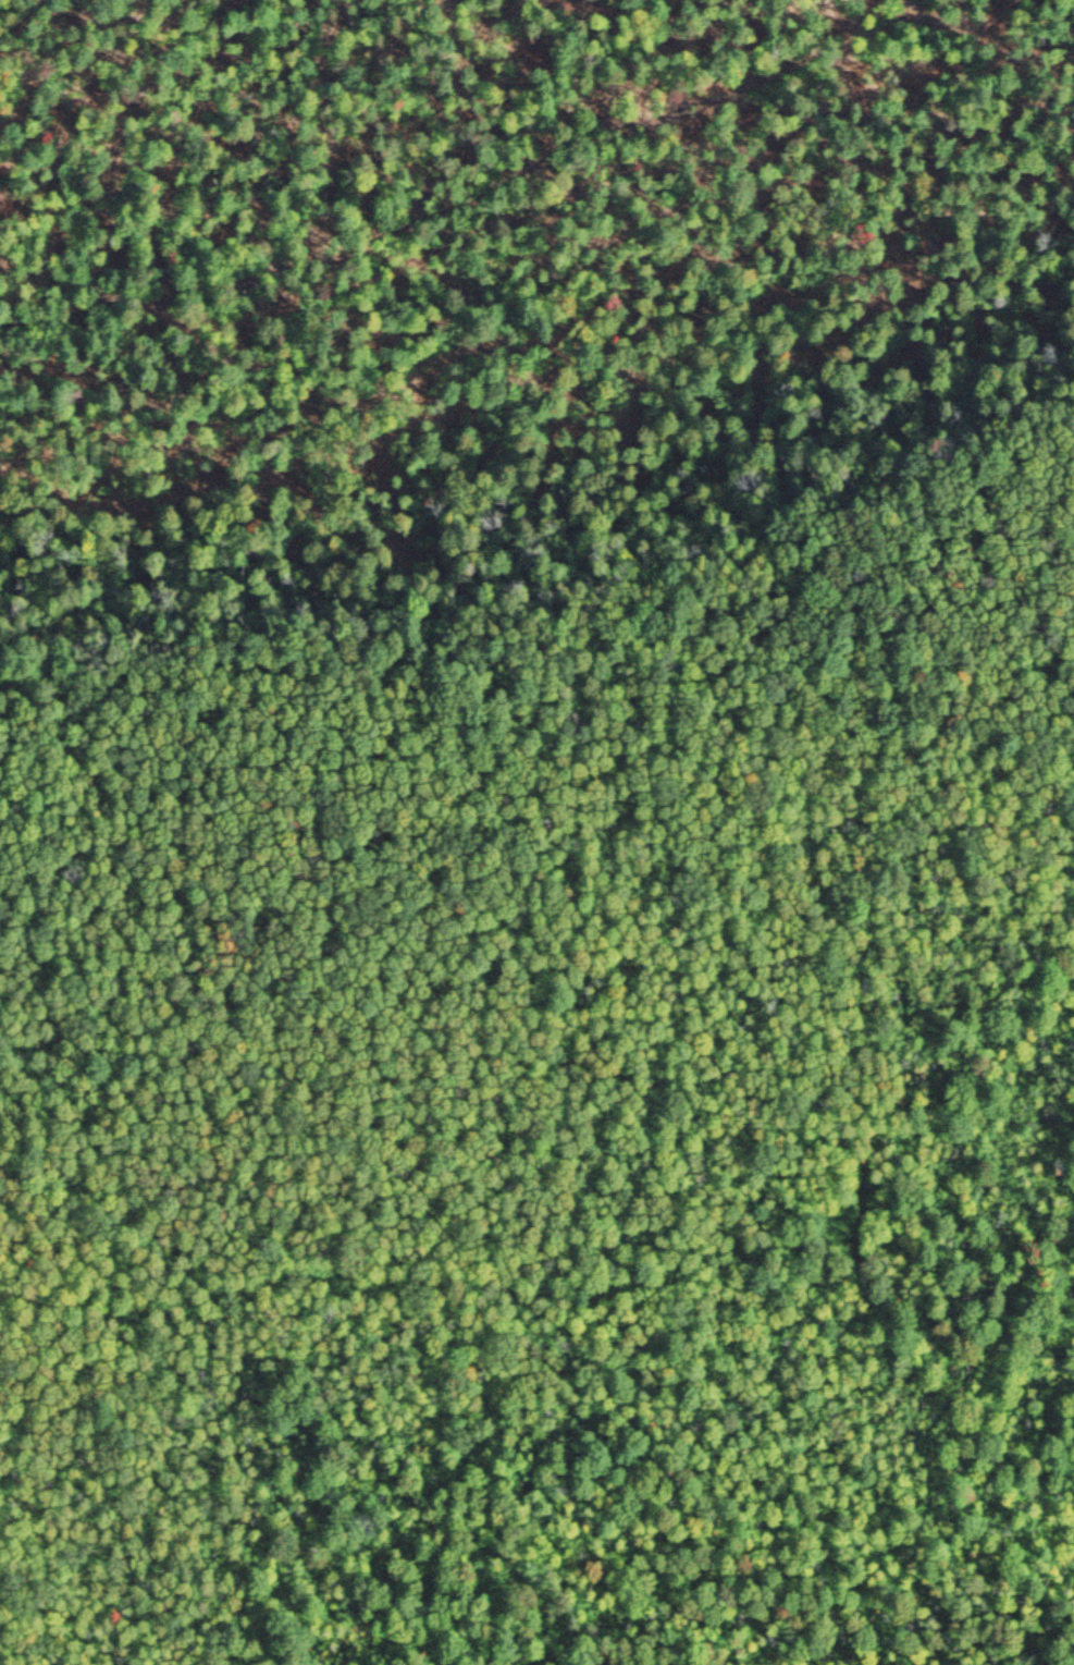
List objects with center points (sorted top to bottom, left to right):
road: (465, 194)

